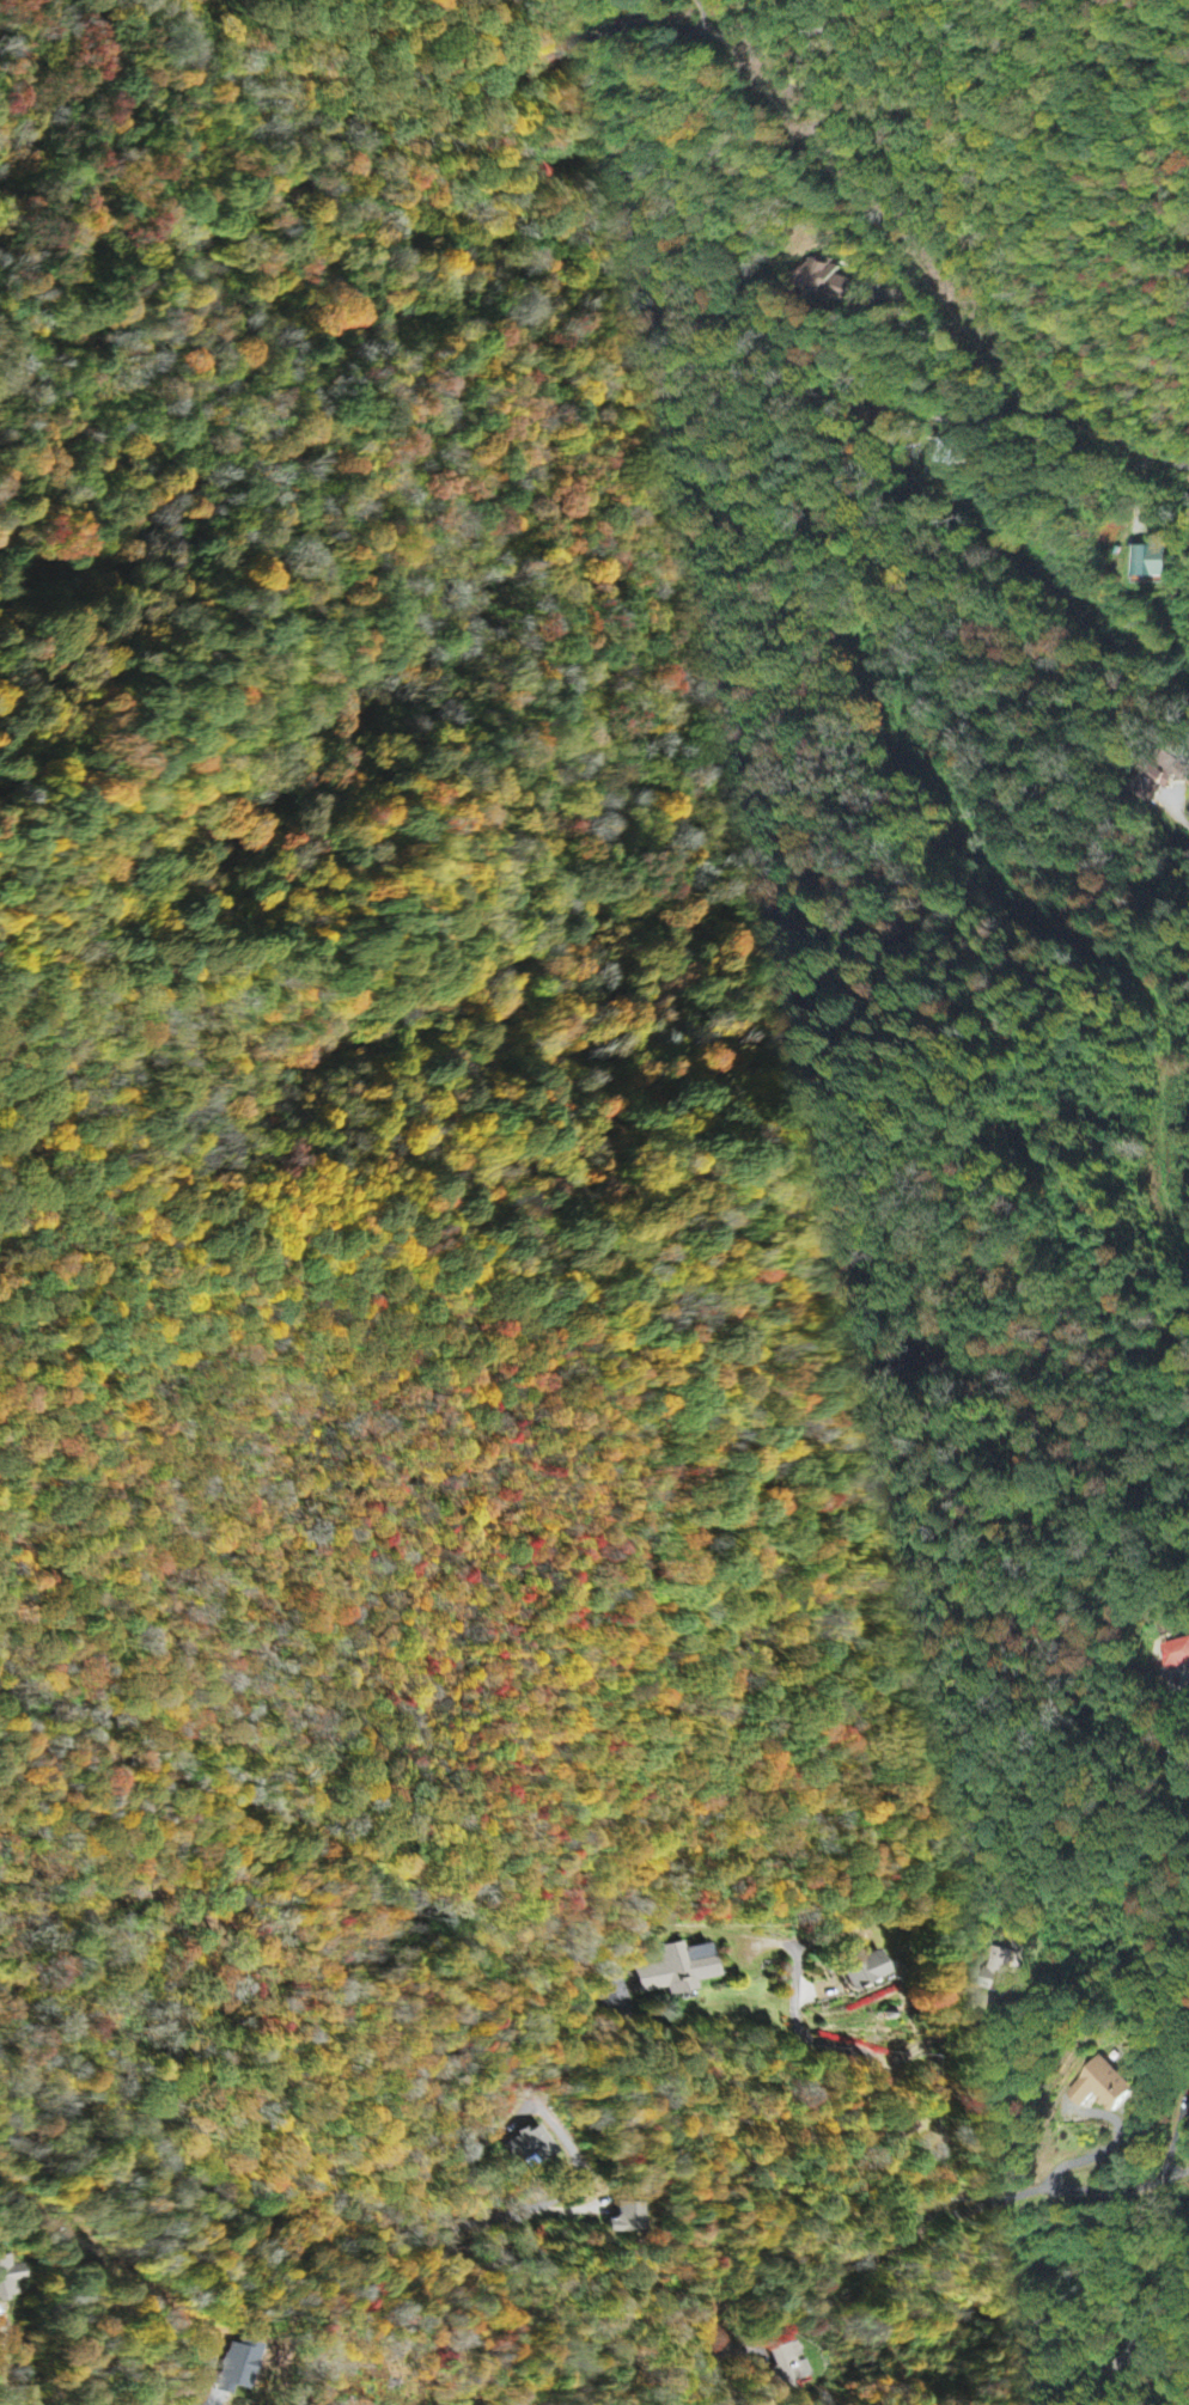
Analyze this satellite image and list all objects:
road: (763, 179)
road: (611, 407)
building: (949, 453)
building: (1152, 564)
road: (1102, 702)
road: (1179, 1745)
building: (677, 1968)
building: (862, 1970)
road: (935, 2037)
road: (874, 2084)
building: (1100, 2087)
building: (530, 2147)
road: (722, 2192)
road: (487, 2218)
building: (626, 2218)
road: (93, 2267)
building: (11, 2273)
road: (1123, 2333)
building: (242, 2366)
building: (786, 2367)
road: (1092, 2370)

